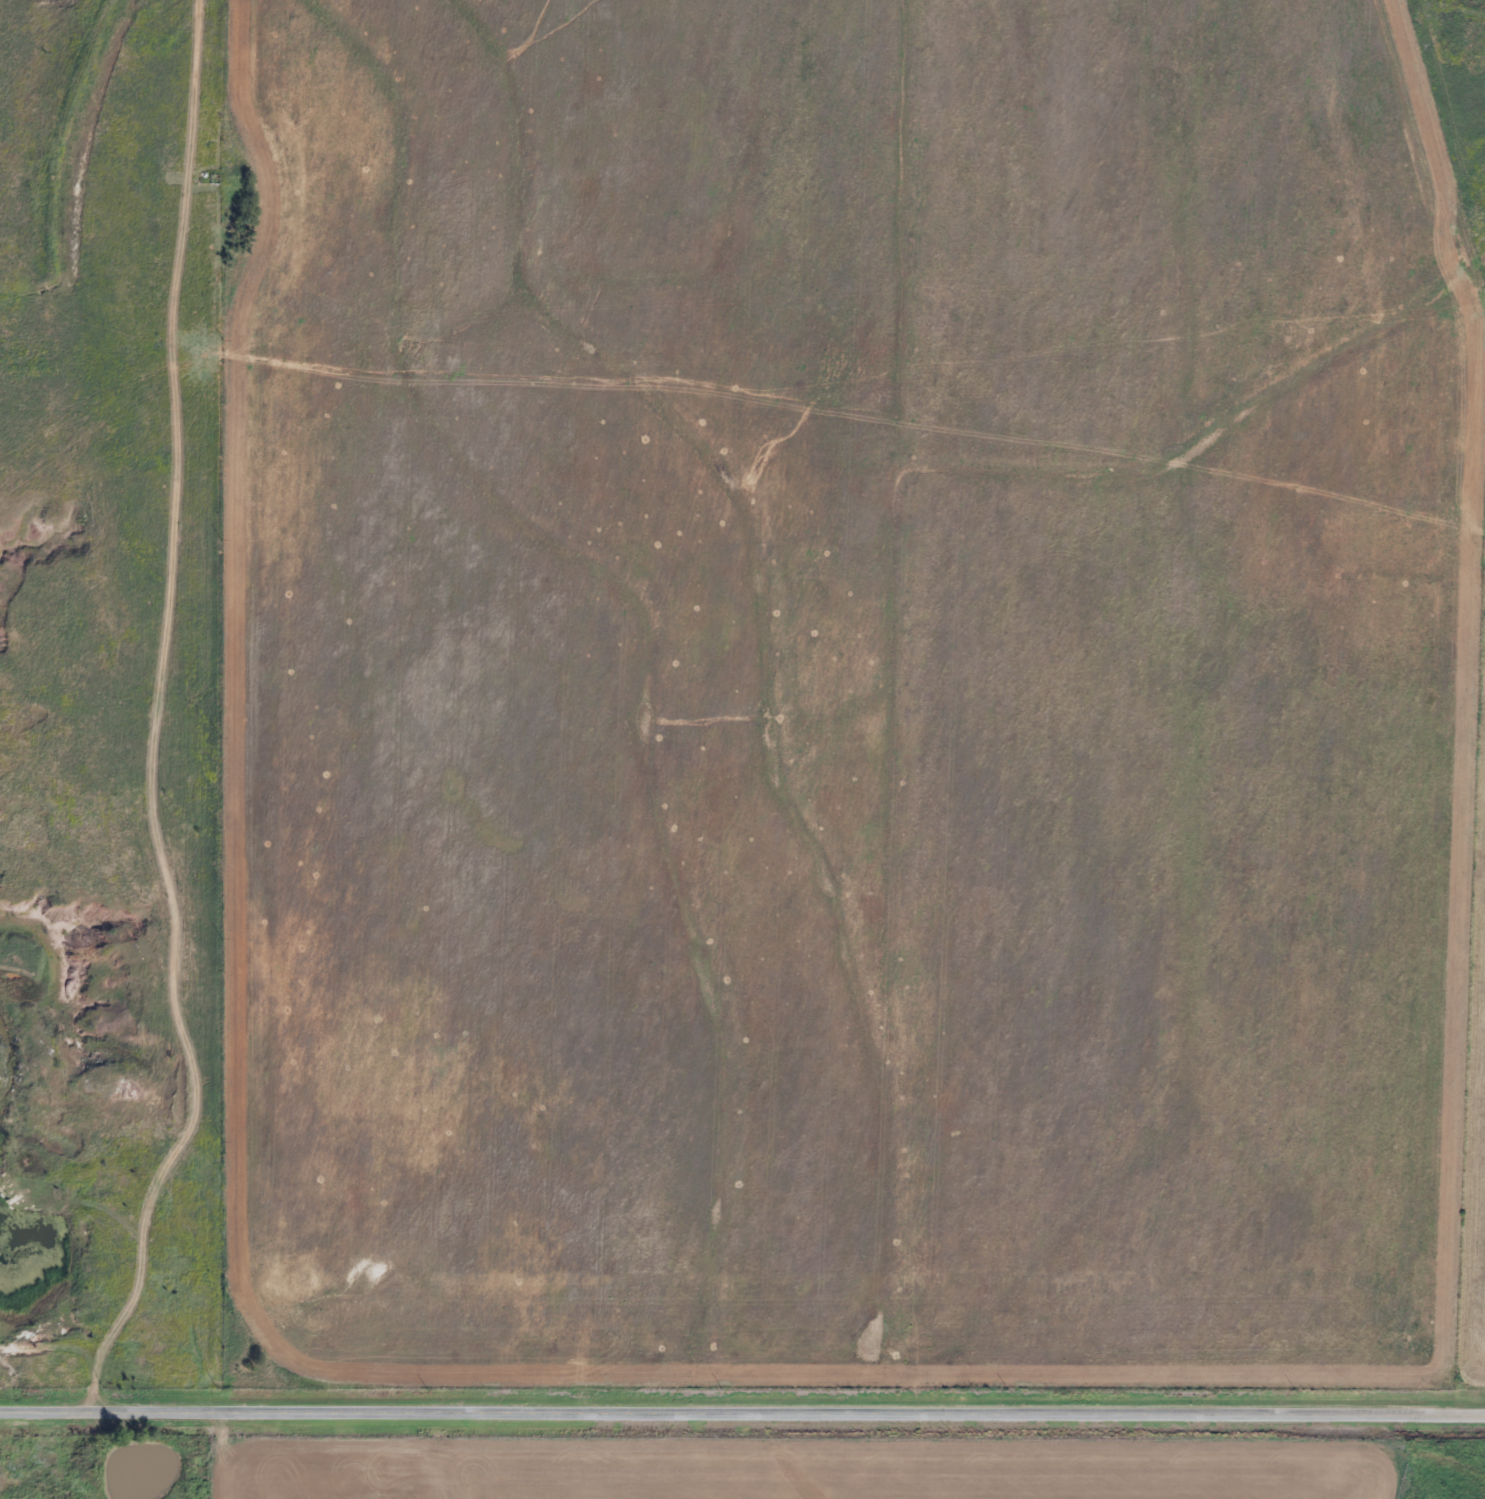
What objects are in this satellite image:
road: (742, 1410)

